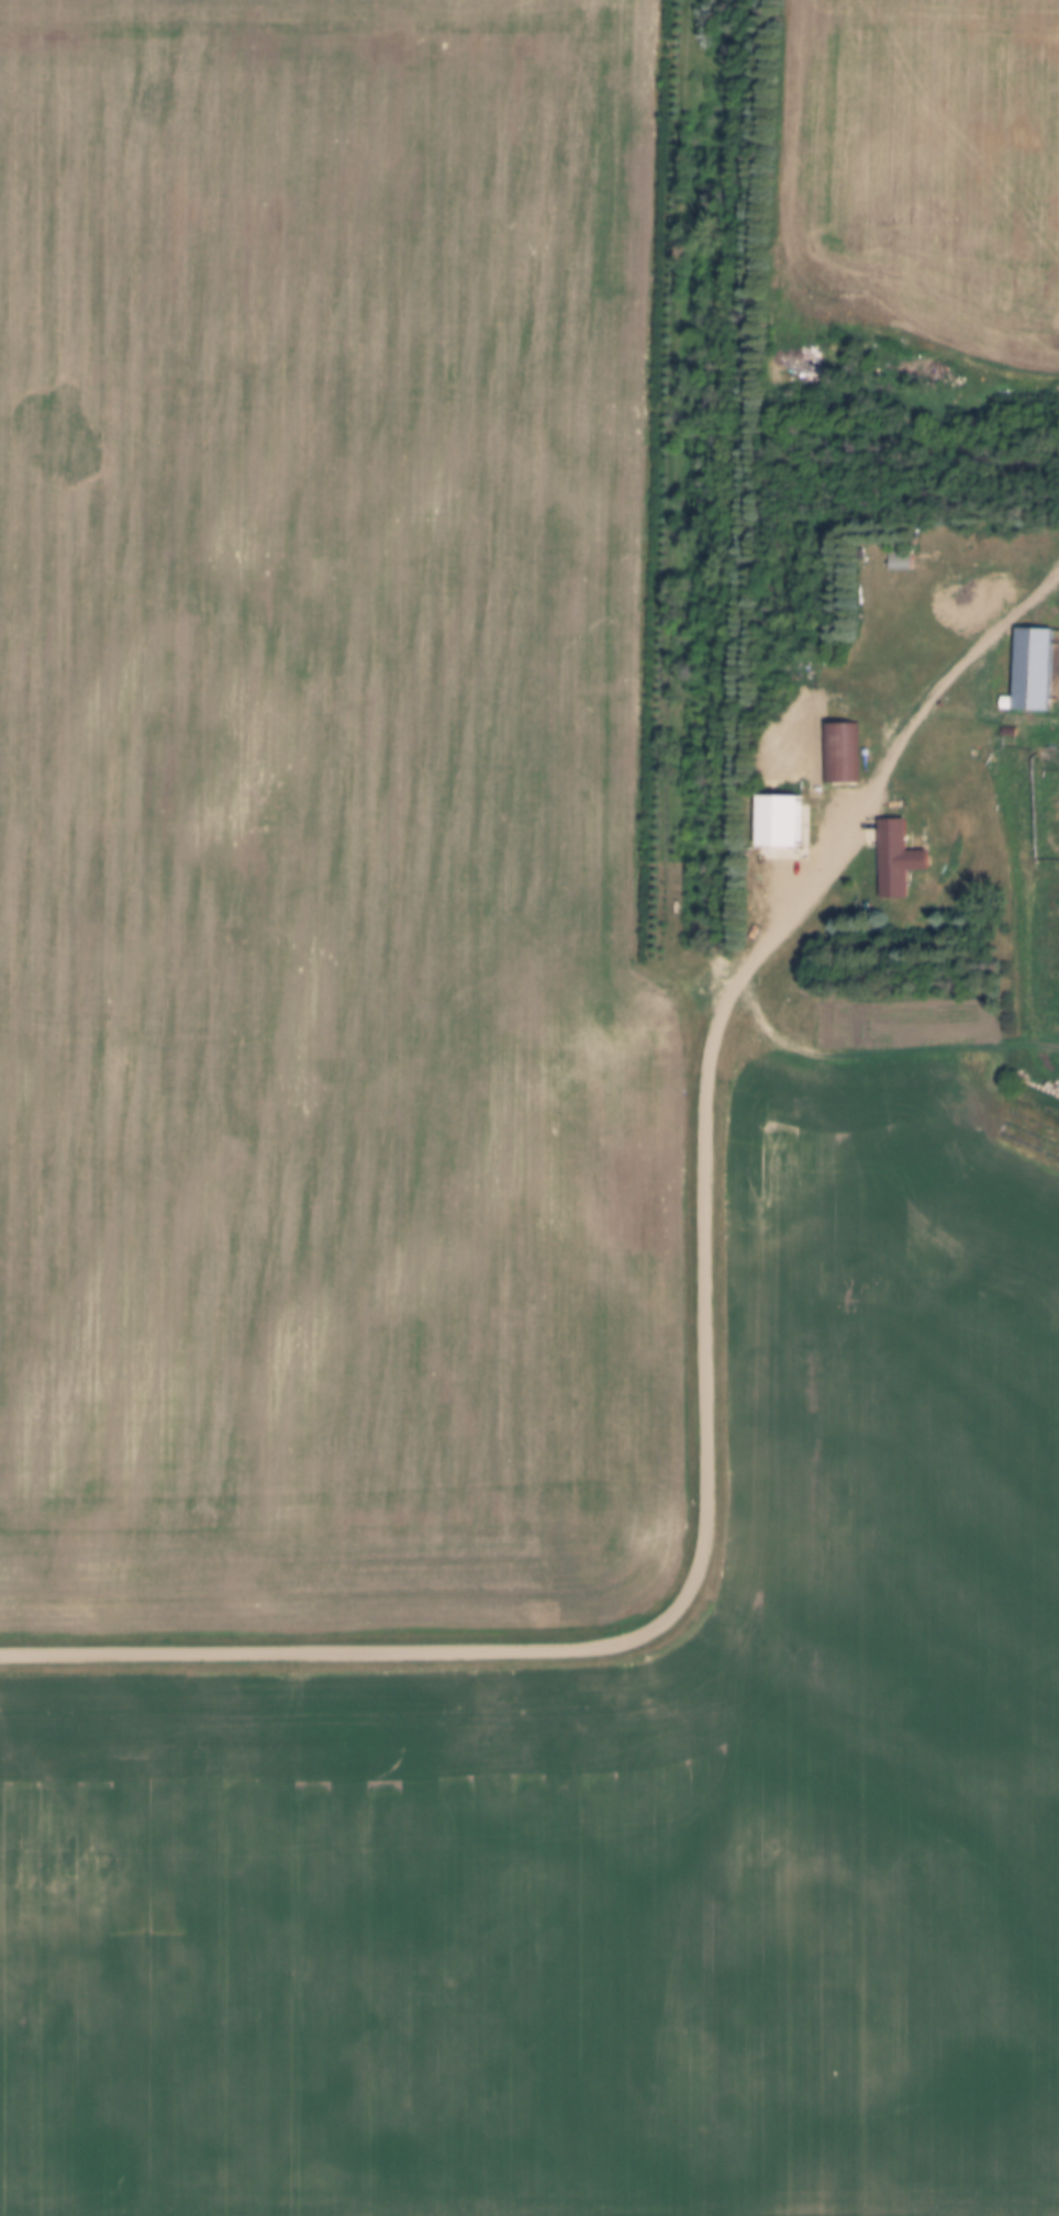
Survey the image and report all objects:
building: (907, 559)
building: (985, 598)
building: (1025, 659)
building: (839, 740)
building: (776, 806)
building: (802, 838)
building: (903, 858)
road: (702, 1371)

